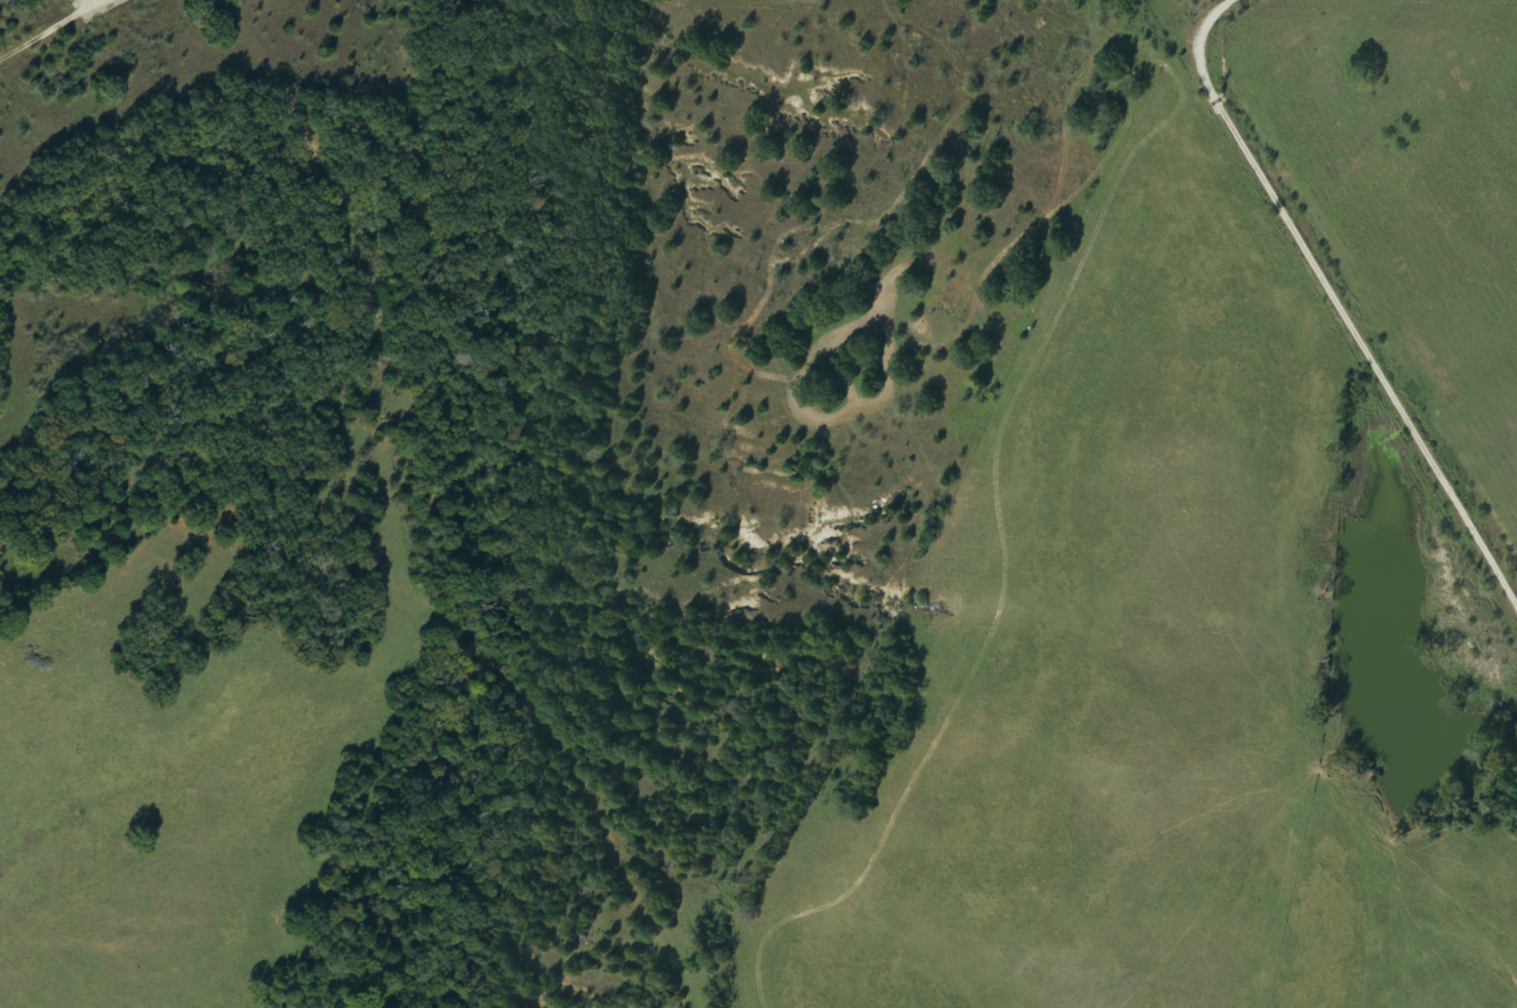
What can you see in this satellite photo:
road: (41, 28)

